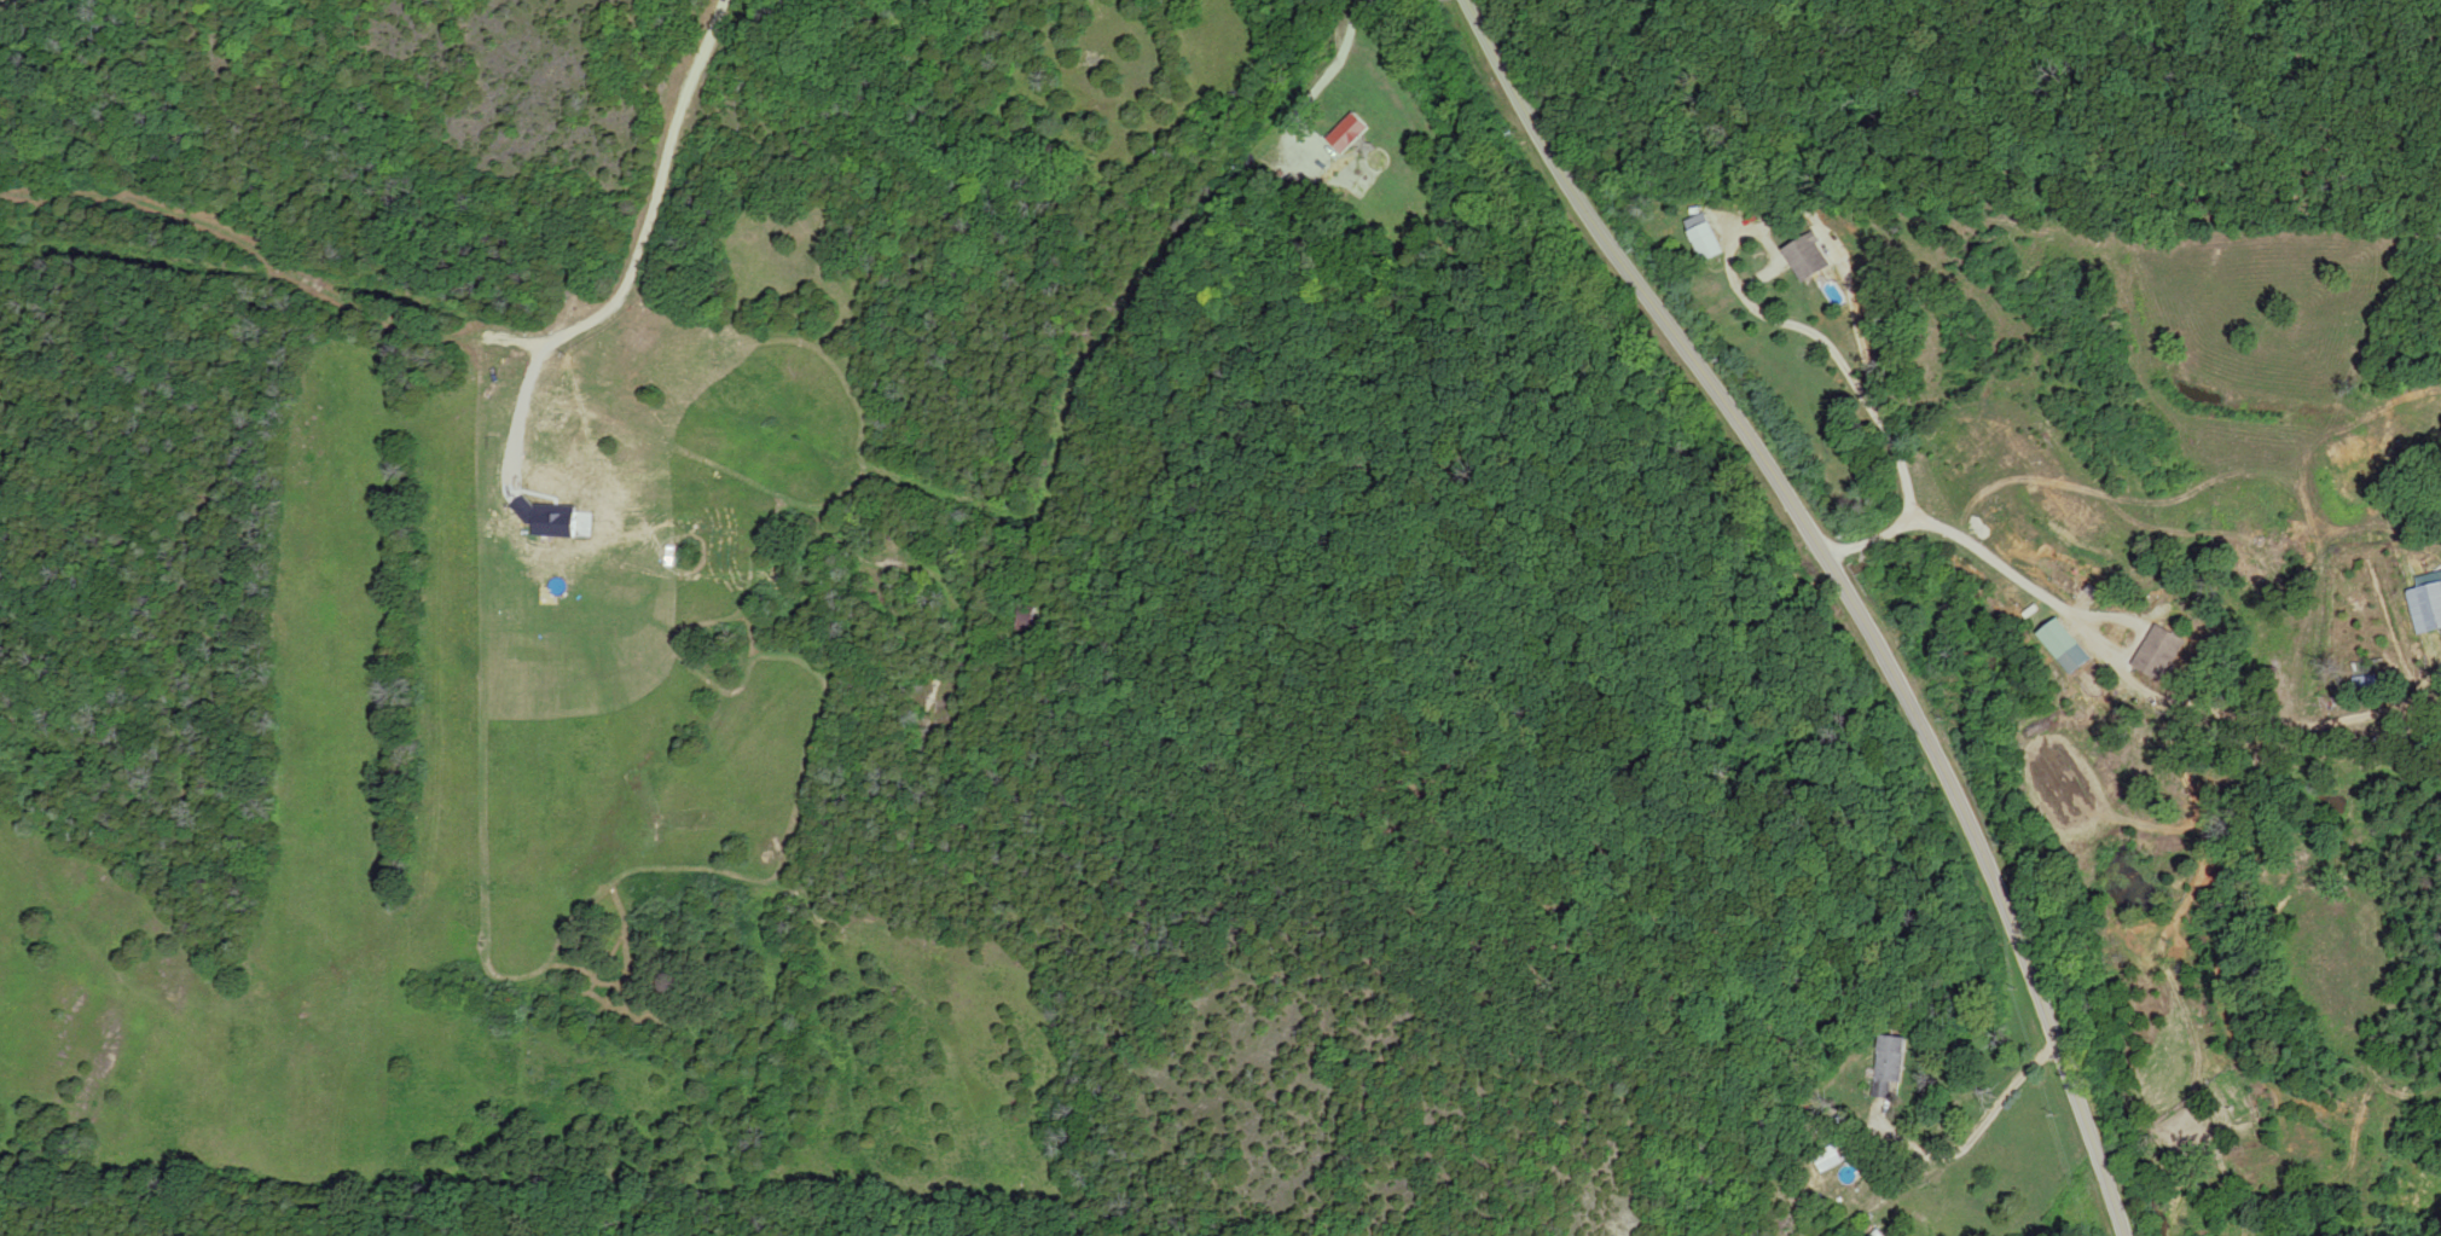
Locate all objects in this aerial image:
park: (1948, 98)
road: (1397, 112)
building: (1346, 134)
building: (1707, 237)
road: (1118, 251)
building: (1810, 257)
road: (1885, 428)
road: (1846, 590)
building: (2428, 605)
building: (1027, 620)
building: (2068, 646)
building: (2157, 652)
building: (2375, 683)
building: (1890, 1067)
road: (1975, 1132)
building: (1828, 1157)

